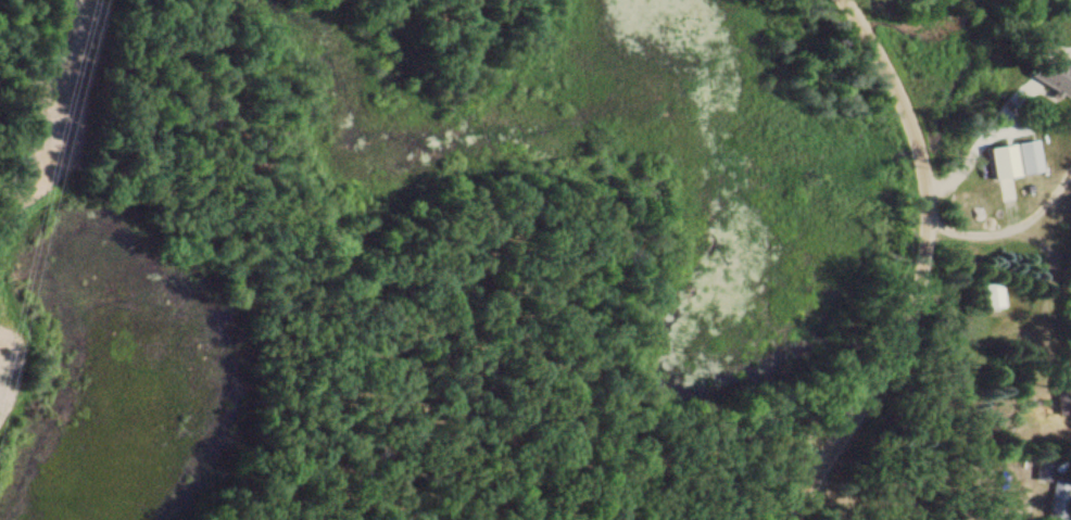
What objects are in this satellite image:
building: (1051, 77)
building: (1031, 155)
road: (929, 264)
building: (993, 293)
building: (1059, 500)

